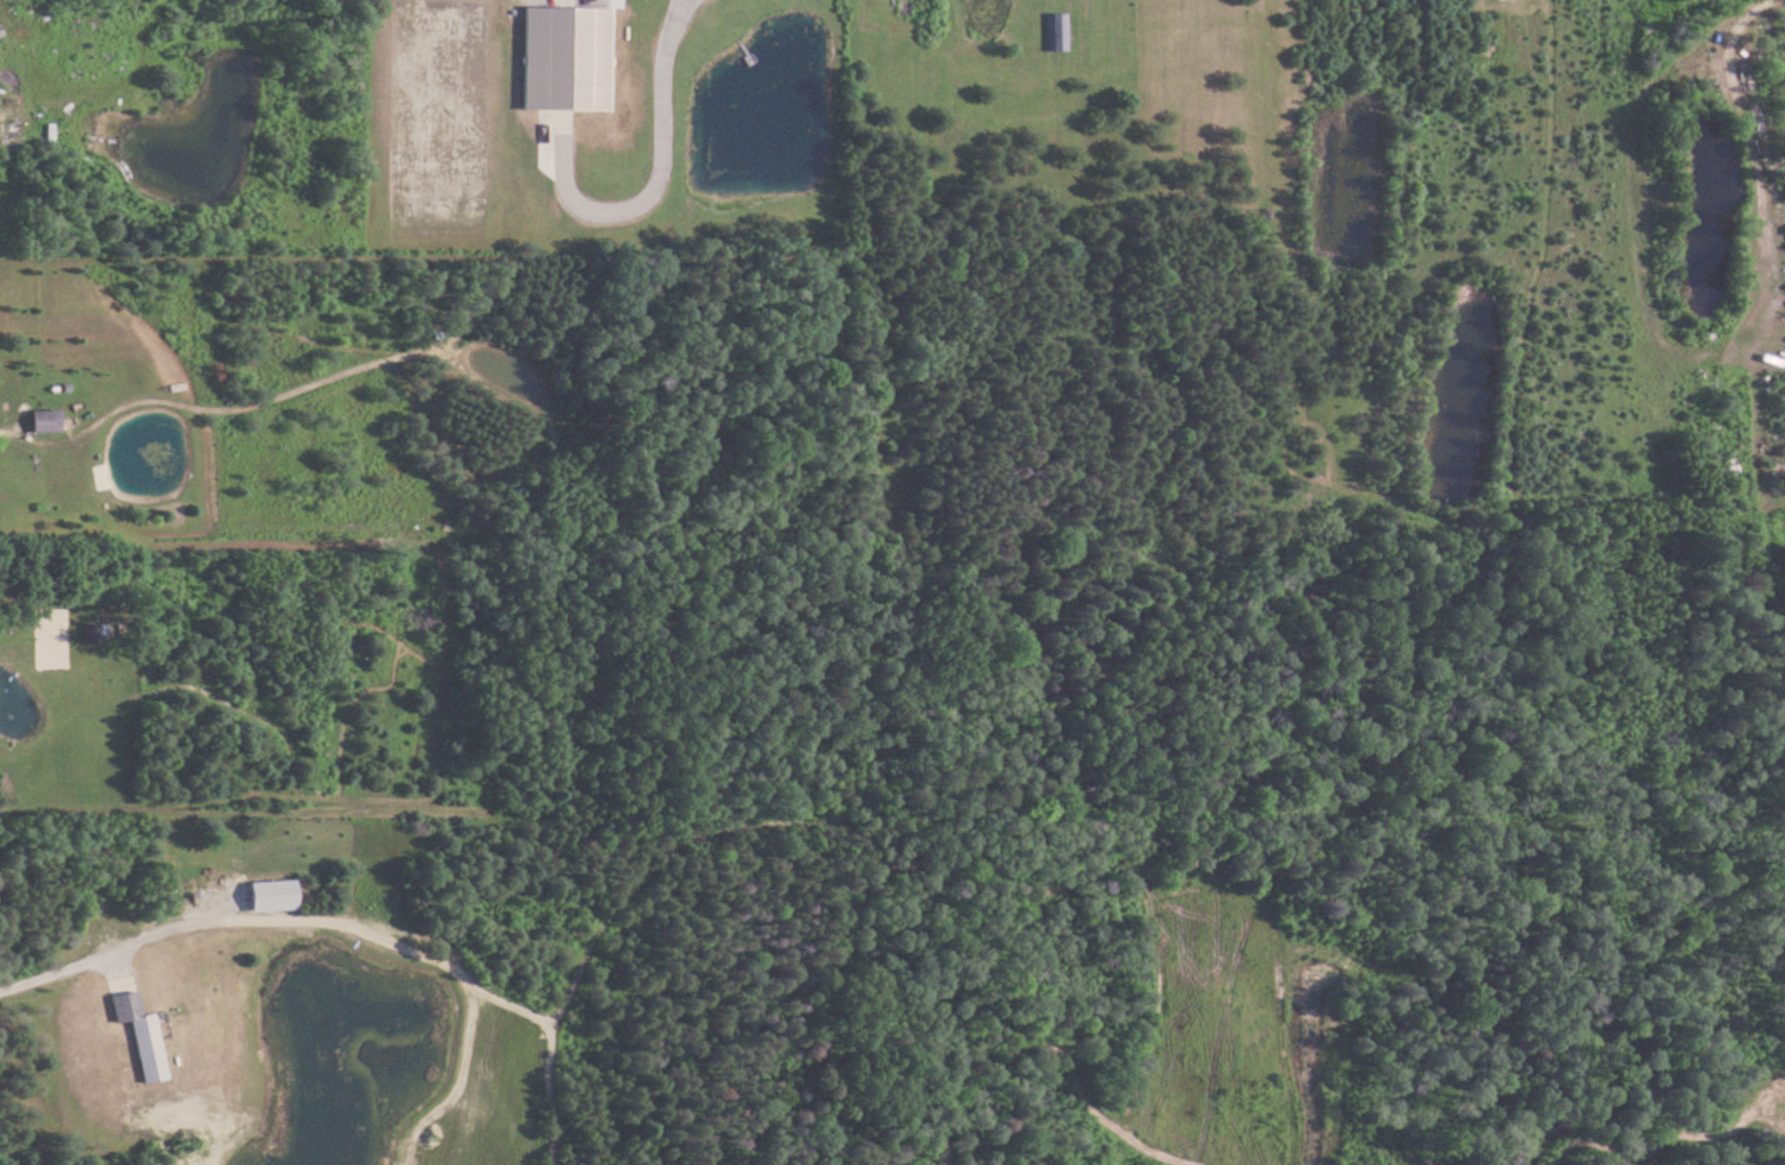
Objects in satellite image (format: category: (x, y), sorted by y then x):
road: (1760, 7)
building: (1062, 32)
building: (568, 58)
road: (1685, 351)
building: (48, 421)
building: (267, 896)
building: (143, 1035)

